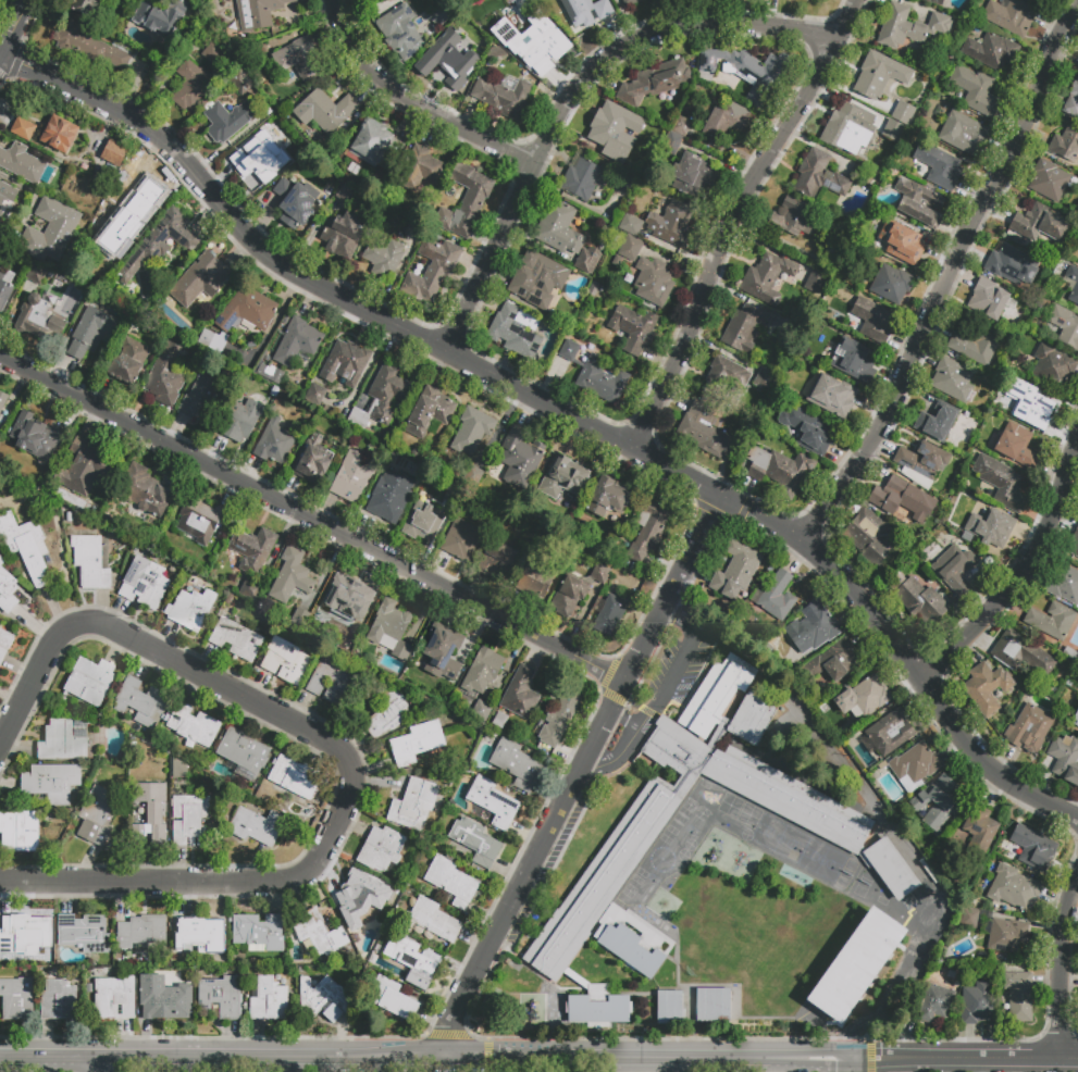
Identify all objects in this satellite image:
building: (934, 1)
building: (631, 2)
building: (83, 5)
building: (586, 11)
building: (258, 13)
building: (1009, 15)
building: (158, 16)
building: (441, 17)
building: (488, 22)
road: (14, 27)
building: (908, 27)
building: (400, 33)
building: (542, 45)
building: (89, 46)
building: (487, 47)
building: (991, 51)
building: (215, 57)
building: (299, 59)
building: (449, 67)
building: (744, 71)
building: (879, 74)
building: (654, 82)
building: (243, 85)
building: (191, 86)
building: (974, 89)
road: (573, 90)
building: (1073, 97)
building: (506, 98)
road: (410, 104)
building: (325, 110)
building: (902, 112)
building: (226, 121)
building: (726, 123)
building: (608, 126)
building: (681, 126)
building: (23, 128)
building: (847, 128)
building: (892, 130)
building: (59, 134)
building: (652, 134)
building: (963, 134)
building: (671, 142)
building: (374, 145)
building: (1065, 145)
building: (113, 152)
building: (299, 152)
building: (258, 157)
building: (24, 164)
building: (938, 166)
building: (687, 169)
building: (421, 171)
building: (819, 175)
building: (580, 179)
building: (1049, 180)
building: (624, 183)
road: (25, 188)
building: (136, 194)
building: (7, 197)
building: (295, 201)
building: (464, 201)
building: (918, 202)
road: (730, 217)
building: (792, 217)
building: (1039, 223)
building: (671, 224)
building: (630, 225)
building: (558, 228)
building: (412, 230)
building: (50, 233)
building: (343, 234)
building: (160, 241)
building: (127, 242)
building: (906, 245)
building: (834, 246)
building: (1077, 246)
building: (630, 248)
building: (865, 254)
building: (383, 258)
building: (588, 260)
building: (617, 260)
building: (1012, 265)
building: (431, 271)
building: (36, 274)
building: (536, 277)
building: (767, 278)
building: (200, 279)
building: (815, 281)
building: (653, 282)
road: (942, 282)
building: (891, 284)
building: (593, 289)
building: (4, 290)
building: (1075, 290)
building: (990, 299)
building: (246, 311)
building: (36, 317)
building: (872, 320)
building: (1065, 326)
building: (744, 328)
building: (632, 329)
building: (789, 331)
building: (92, 332)
building: (512, 333)
building: (211, 341)
building: (297, 341)
building: (975, 346)
building: (848, 360)
building: (128, 362)
building: (345, 363)
building: (1053, 366)
building: (269, 373)
building: (595, 374)
building: (726, 374)
building: (166, 375)
building: (764, 379)
building: (952, 379)
building: (314, 394)
building: (201, 397)
building: (833, 397)
building: (382, 398)
building: (2, 399)
building: (1032, 406)
road: (562, 411)
building: (428, 412)
building: (240, 421)
building: (937, 423)
building: (702, 429)
building: (470, 431)
building: (810, 431)
building: (38, 436)
building: (273, 441)
building: (1016, 446)
building: (313, 458)
building: (519, 459)
building: (921, 464)
building: (83, 466)
building: (779, 470)
building: (473, 476)
building: (349, 477)
building: (563, 479)
building: (1001, 483)
building: (146, 490)
building: (391, 495)
building: (607, 498)
building: (902, 498)
building: (537, 518)
building: (199, 520)
road: (311, 520)
building: (423, 521)
building: (989, 526)
building: (647, 531)
building: (869, 537)
building: (460, 539)
building: (1074, 545)
building: (25, 546)
building: (252, 549)
building: (497, 560)
building: (90, 563)
building: (954, 569)
road: (1023, 571)
building: (734, 573)
building: (290, 576)
building: (535, 576)
building: (145, 583)
building: (1063, 584)
building: (7, 589)
building: (575, 589)
building: (249, 590)
building: (777, 595)
building: (918, 599)
building: (345, 600)
building: (191, 609)
building: (611, 612)
building: (299, 618)
building: (1051, 621)
building: (391, 628)
building: (813, 631)
building: (236, 639)
building: (4, 643)
building: (443, 655)
building: (1020, 655)
building: (285, 661)
road: (680, 661)
building: (834, 661)
parking lot: (678, 666)
building: (482, 671)
road: (600, 678)
building: (90, 681)
building: (332, 682)
building: (984, 688)
building: (520, 694)
building: (716, 695)
building: (863, 698)
building: (140, 701)
road: (605, 701)
building: (480, 710)
building: (386, 712)
building: (752, 718)
building: (558, 719)
road: (624, 719)
building: (1075, 719)
building: (499, 720)
building: (1028, 724)
building: (194, 726)
building: (786, 730)
building: (888, 731)
building: (64, 740)
building: (417, 743)
road: (340, 751)
building: (243, 753)
road: (563, 756)
road: (618, 757)
building: (1065, 759)
building: (517, 764)
building: (914, 765)
building: (178, 770)
road: (578, 774)
road: (584, 775)
building: (296, 777)
building: (51, 784)
building: (493, 802)
building: (934, 802)
building: (413, 805)
building: (149, 811)
building: (97, 814)
building: (191, 821)
building: (256, 826)
building: (20, 831)
building: (979, 831)
building: (475, 842)
building: (1032, 847)
building: (381, 848)
building: (873, 850)
building: (929, 871)
building: (451, 882)
building: (1013, 887)
building: (361, 901)
building: (969, 918)
building: (433, 920)
building: (26, 931)
building: (141, 932)
building: (84, 933)
building: (259, 933)
building: (199, 934)
building: (319, 934)
building: (1006, 934)
building: (631, 942)
building: (413, 960)
building: (856, 965)
road: (1060, 968)
building: (1017, 996)
building: (221, 997)
building: (16, 998)
building: (114, 998)
building: (325, 999)
building: (394, 999)
building: (269, 1000)
building: (60, 1001)
building: (166, 1002)
building: (935, 1004)
building: (976, 1005)
building: (597, 1006)
building: (713, 1006)
building: (668, 1007)
street lamp: (907, 1036)
road: (439, 1039)
road: (658, 1044)
road: (271, 1056)
road: (649, 1056)
road: (467, 1057)
road: (966, 1058)
road: (50, 1059)
road: (866, 1059)
road: (855, 1064)
road: (100, 1065)

